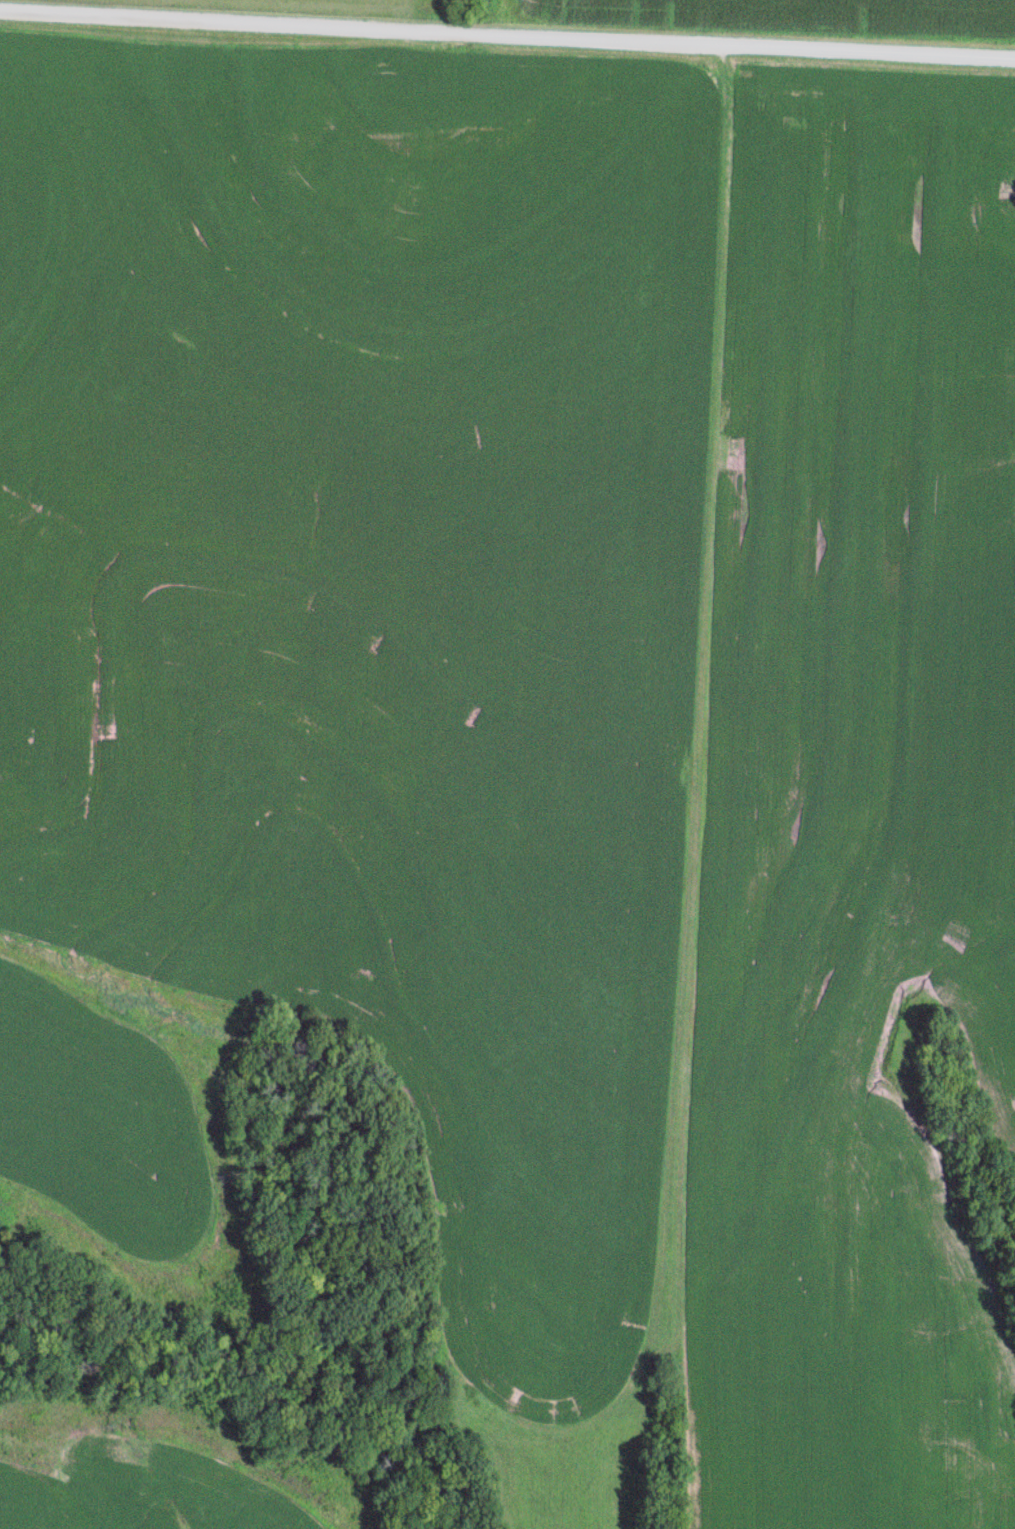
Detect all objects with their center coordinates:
road: (507, 33)
road: (698, 693)

